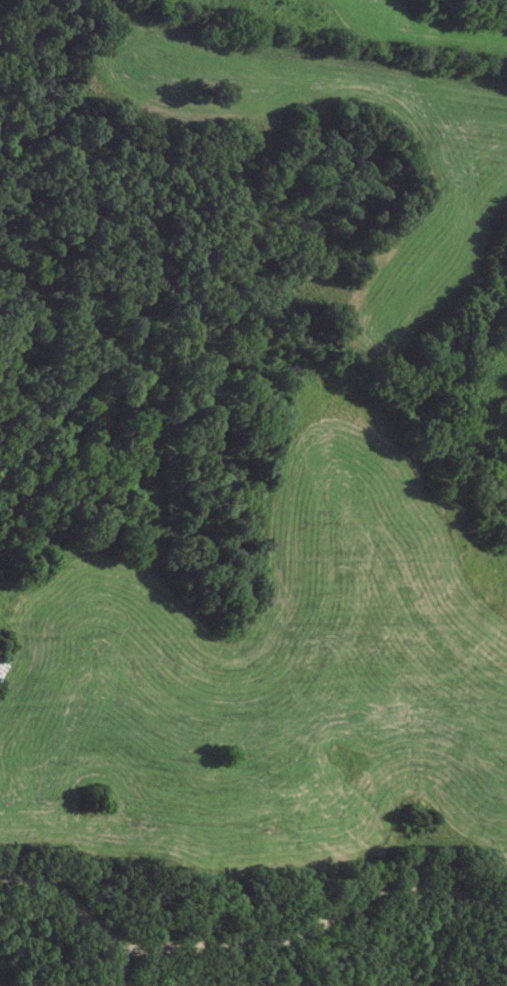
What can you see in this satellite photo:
road: (246, 939)
road: (126, 965)

